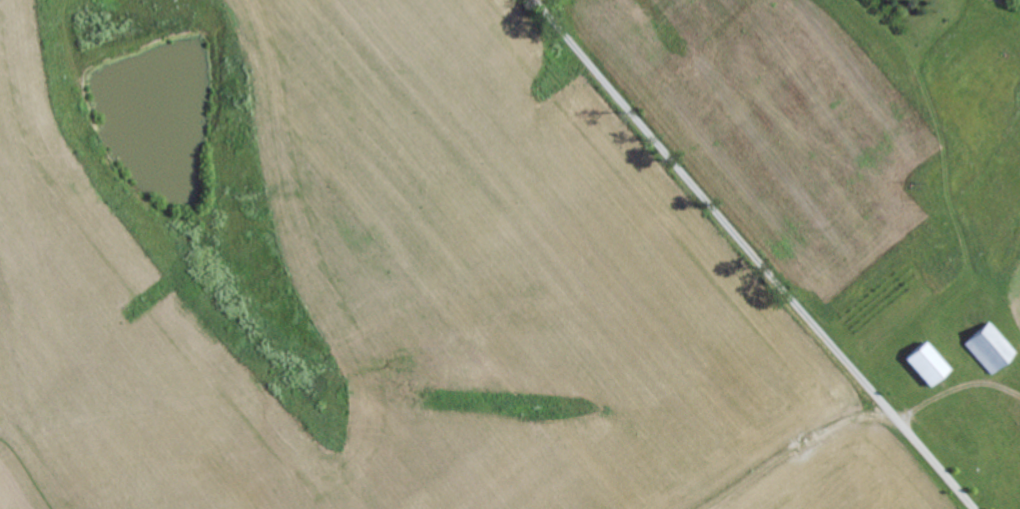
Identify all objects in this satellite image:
road: (752, 255)
road: (790, 452)

